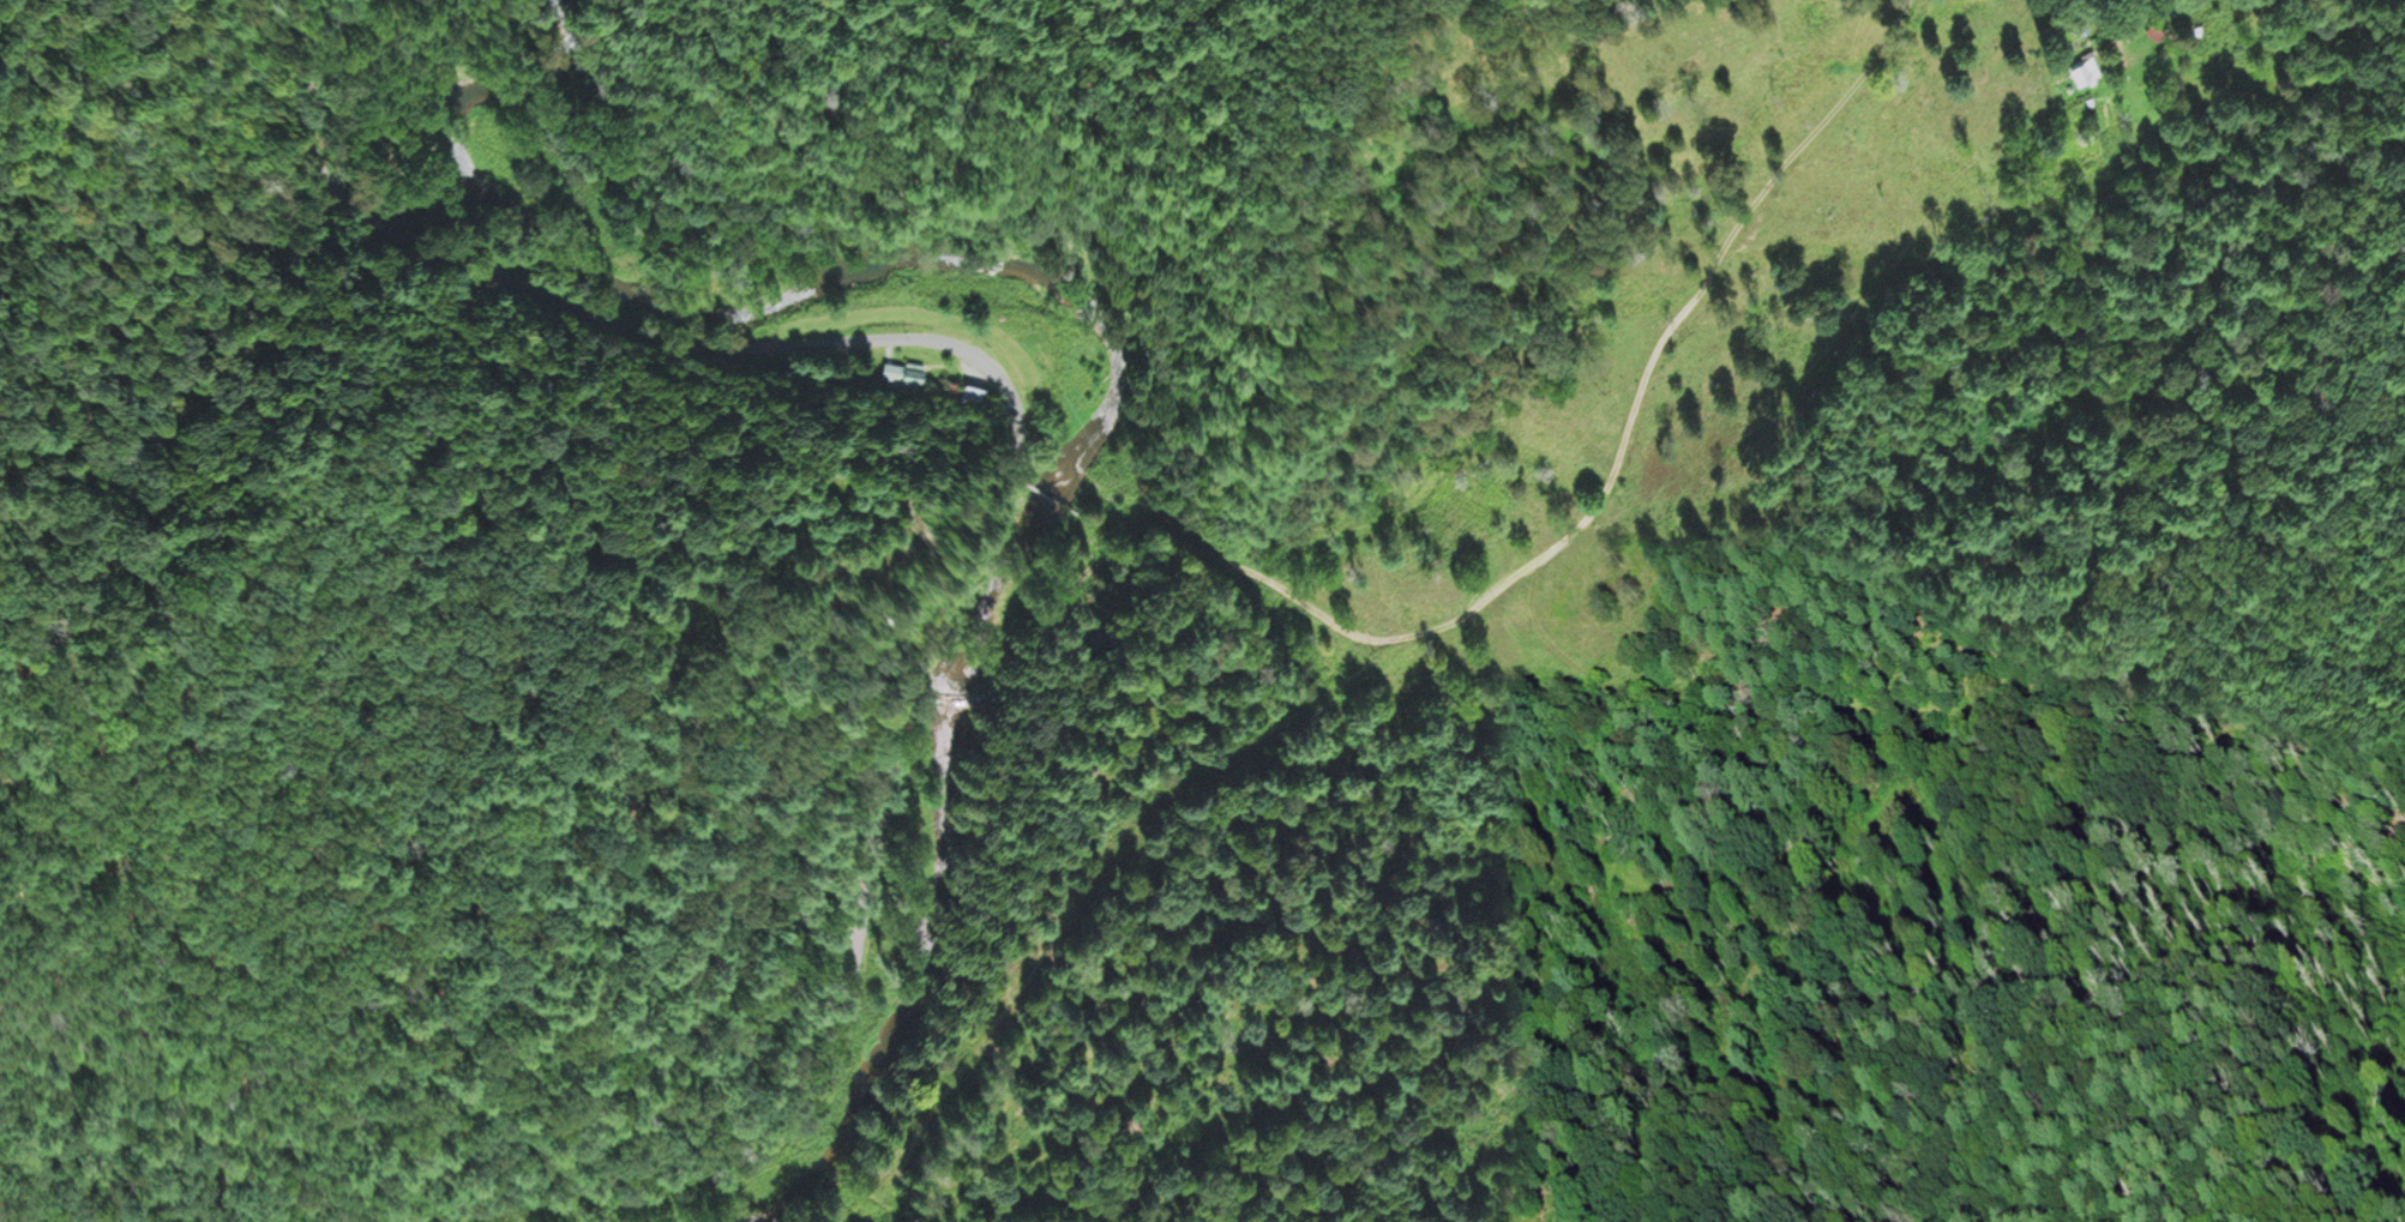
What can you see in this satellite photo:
road: (2109, 18)
building: (2080, 23)
building: (2156, 31)
building: (2082, 68)
road: (915, 338)
building: (906, 377)
building: (970, 395)
road: (1519, 577)
road: (915, 696)
road: (950, 697)
building: (944, 700)
road: (591, 1187)

